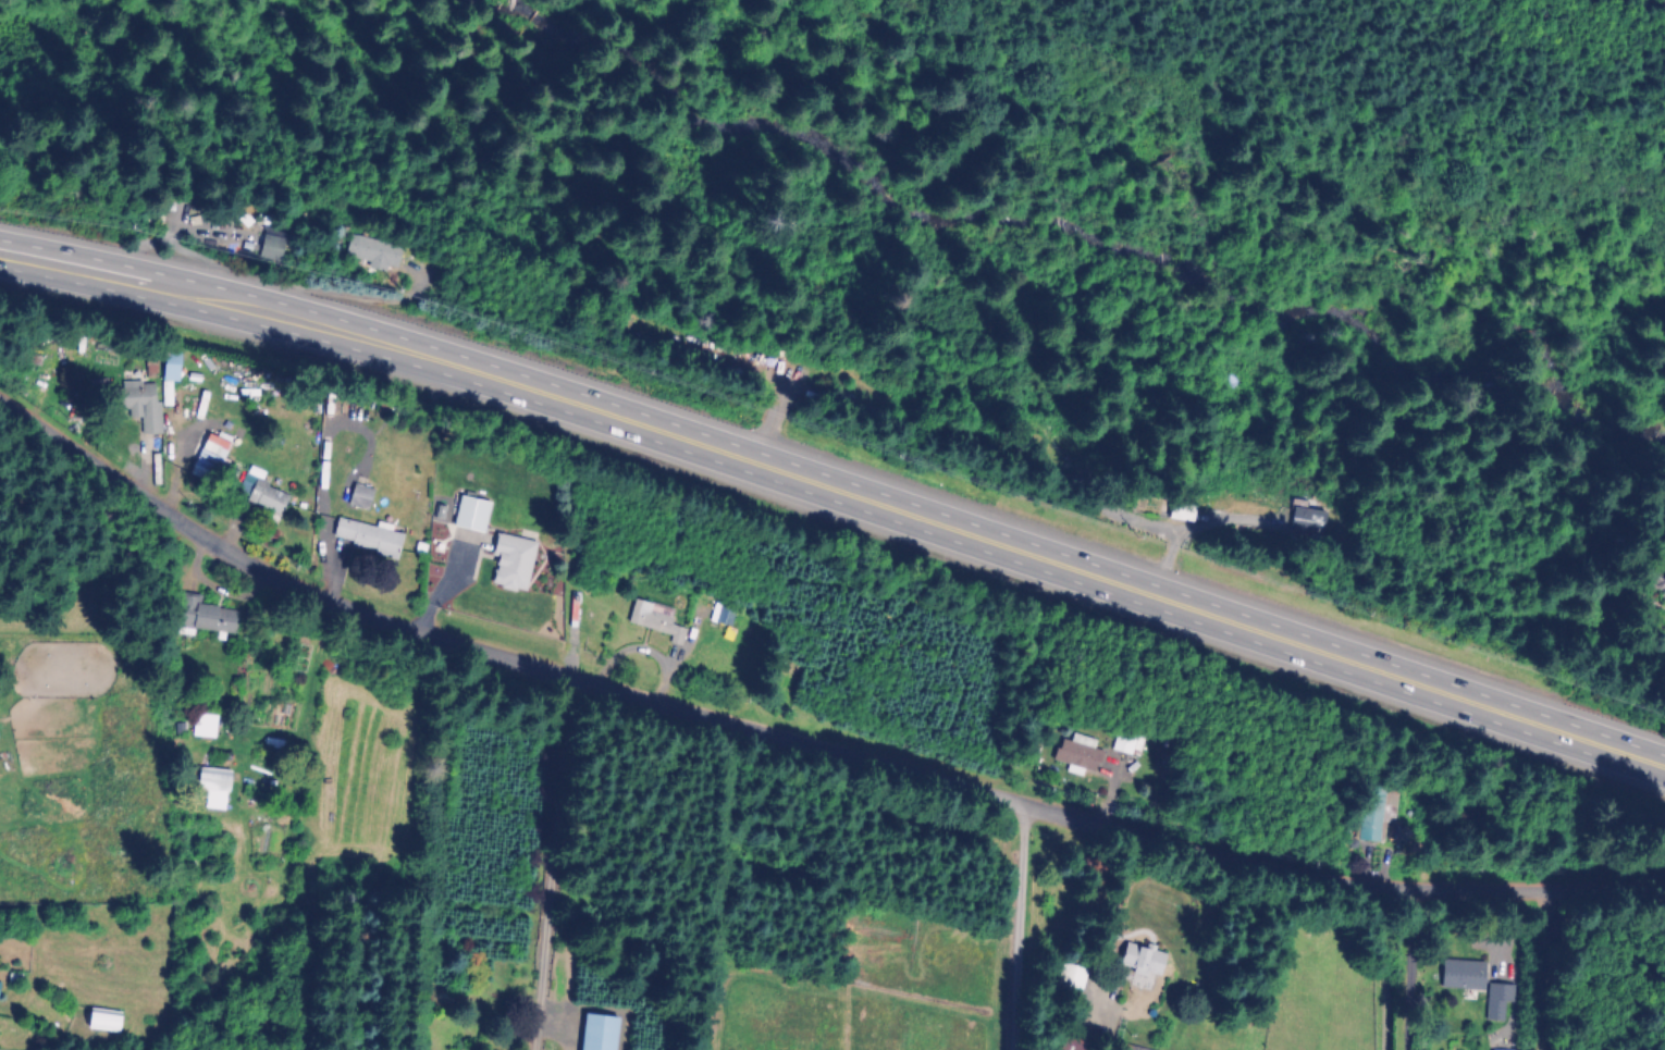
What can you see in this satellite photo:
building: (271, 240)
building: (372, 255)
road: (98, 275)
building: (157, 396)
road: (768, 420)
building: (209, 461)
building: (261, 497)
building: (1176, 514)
building: (469, 516)
road: (933, 523)
building: (1302, 526)
building: (366, 538)
building: (510, 565)
building: (1655, 585)
building: (206, 619)
building: (724, 620)
building: (654, 622)
road: (645, 650)
road: (802, 743)
building: (1125, 743)
building: (1076, 755)
building: (211, 788)
road: (553, 862)
road: (1014, 926)
building: (1139, 960)
road: (1409, 968)
road: (1543, 972)
building: (1460, 975)
building: (1068, 984)
building: (1138, 1000)
building: (100, 1020)
building: (1071, 1041)
building: (1128, 1048)

